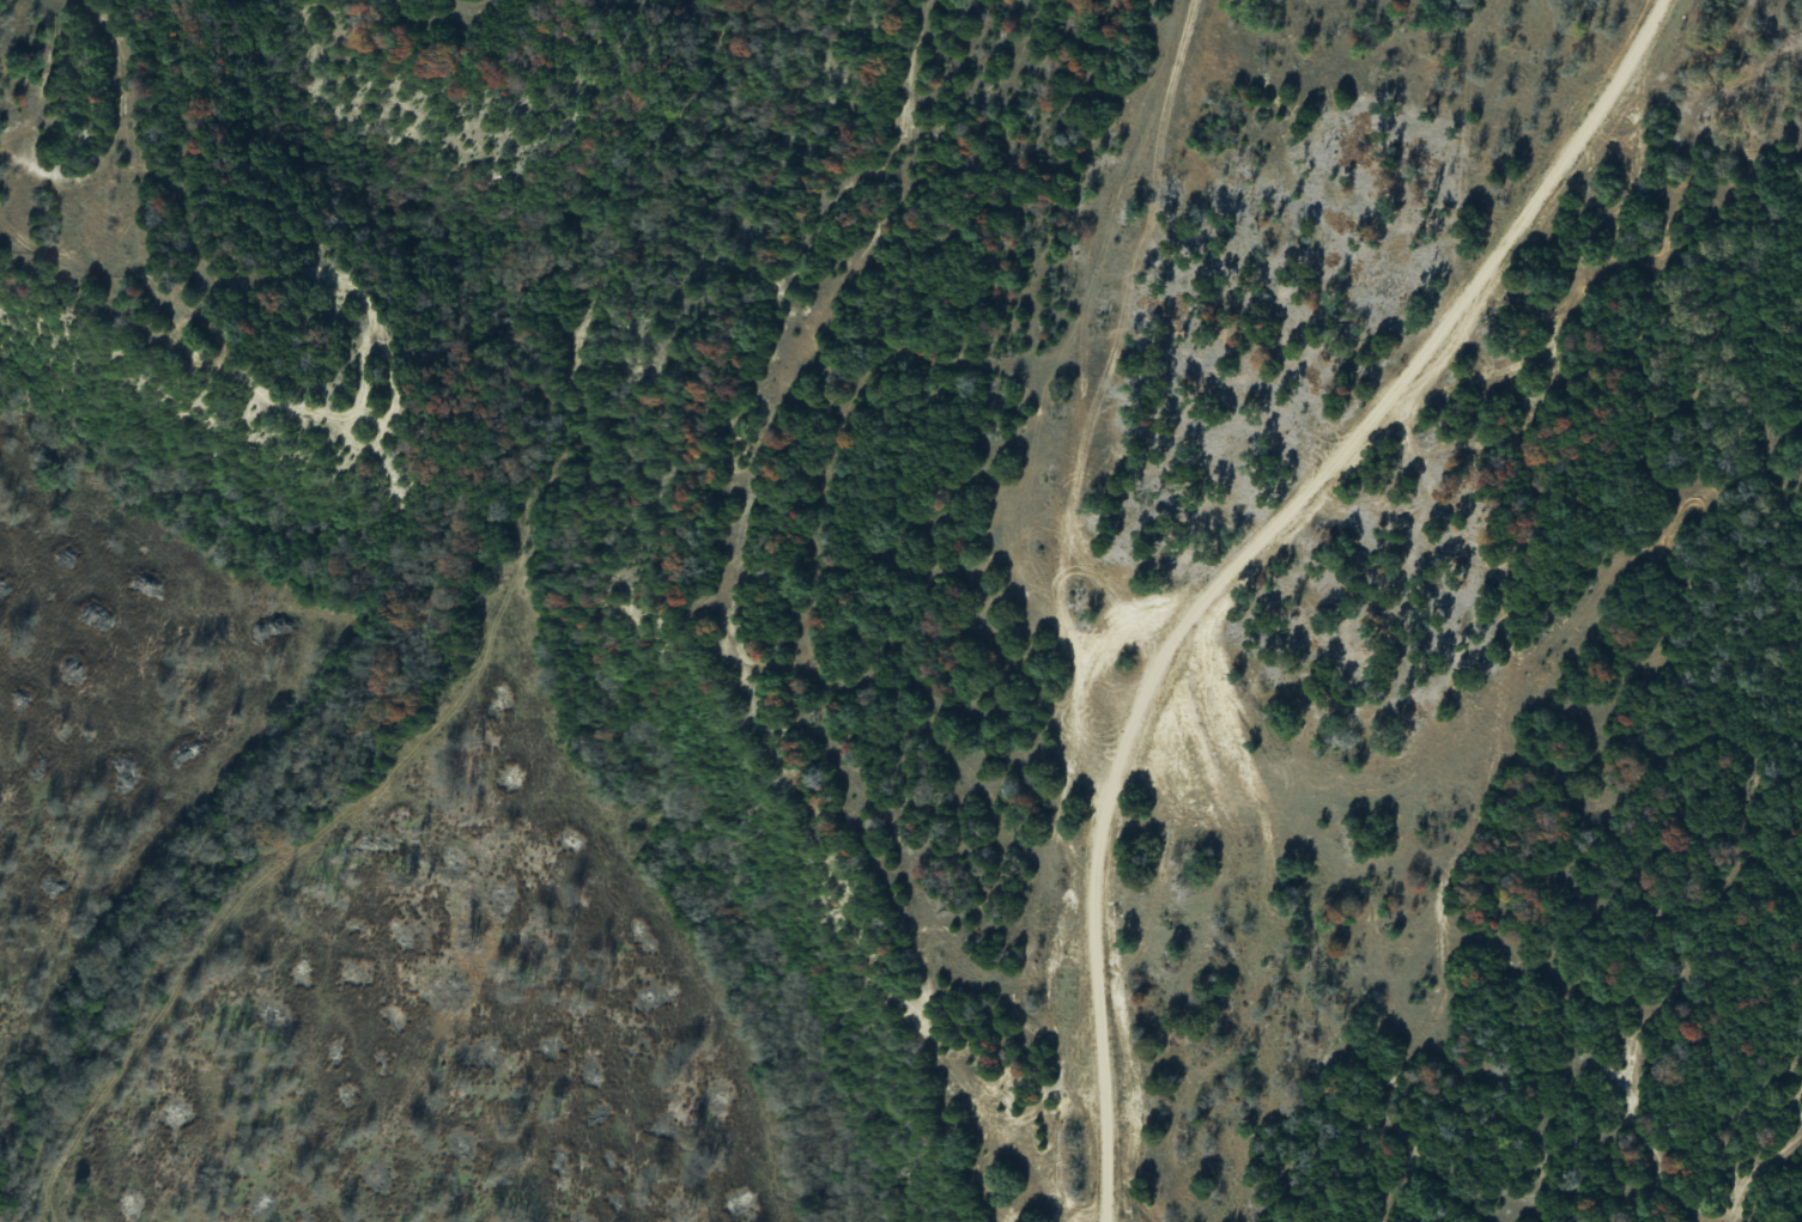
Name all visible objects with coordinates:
road: (1243, 560)

